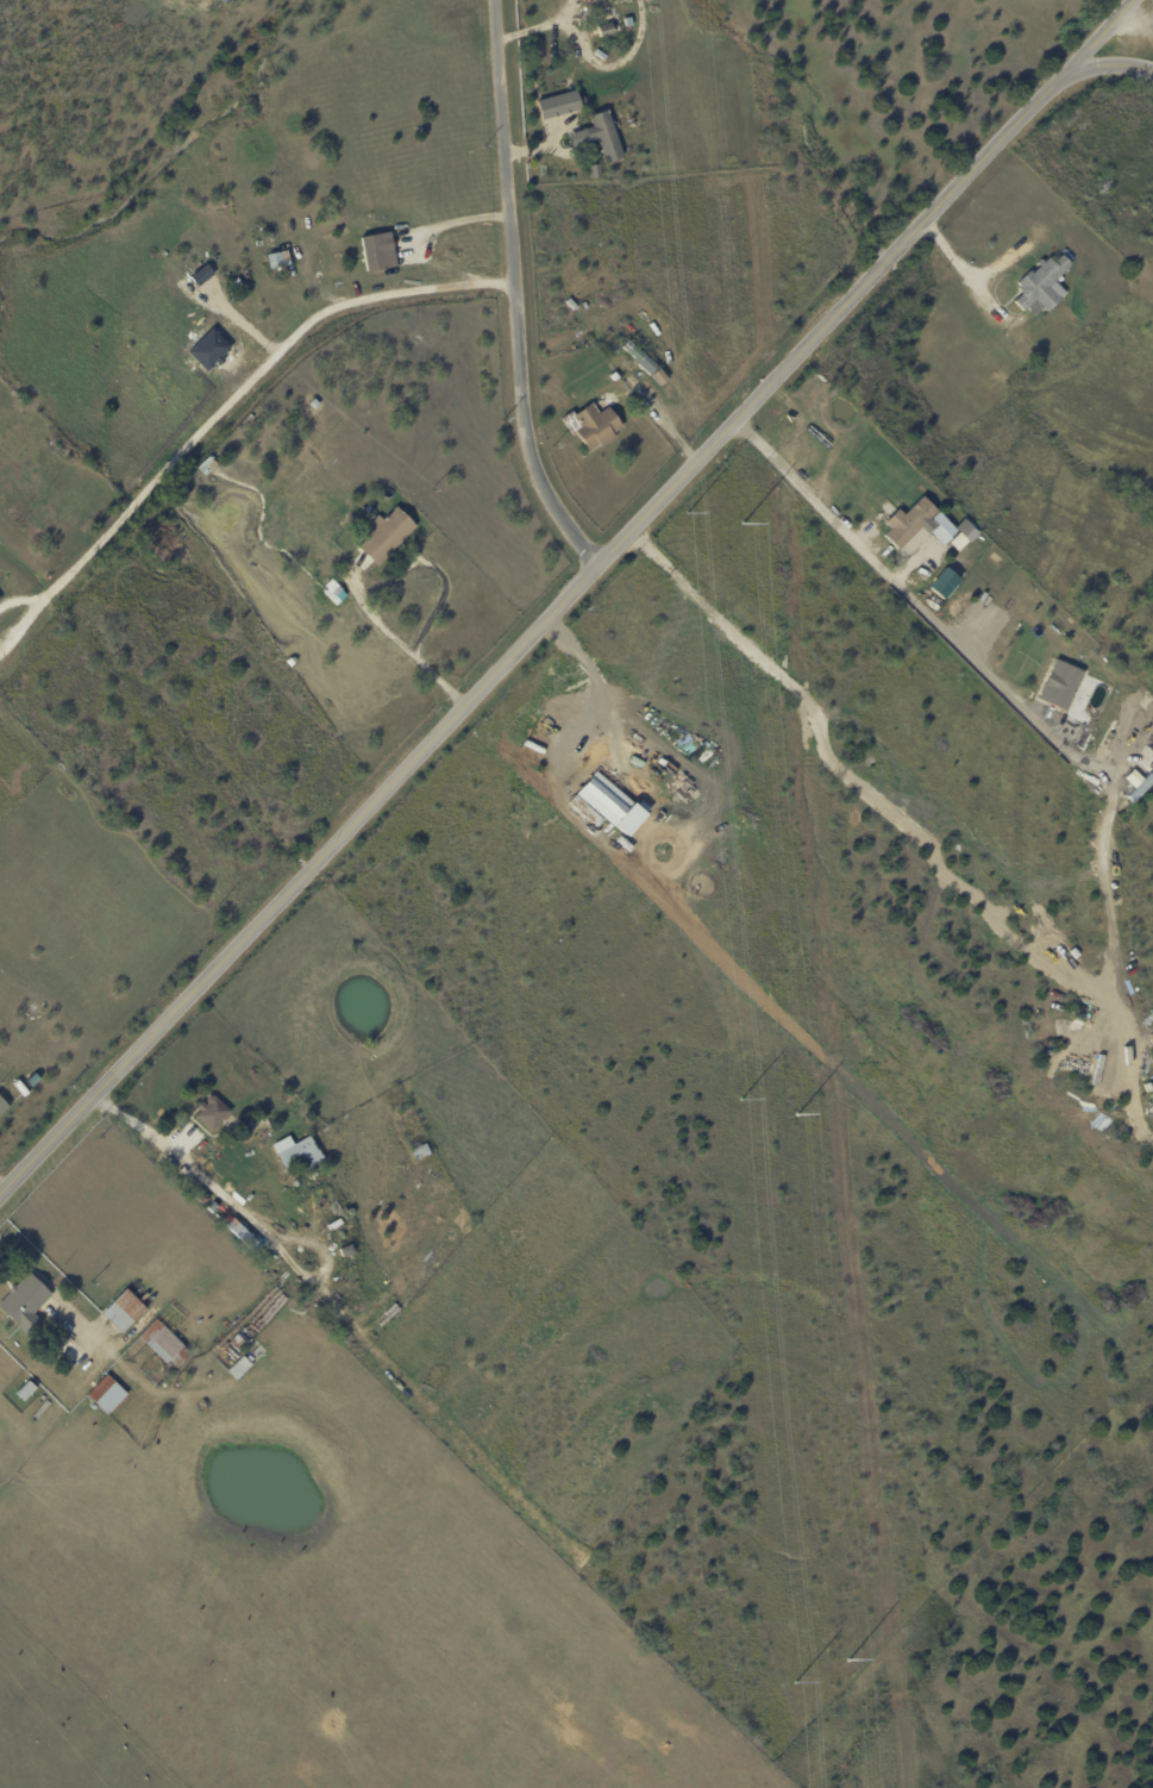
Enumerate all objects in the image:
road: (1092, 44)
road: (1099, 67)
building: (559, 104)
building: (606, 137)
building: (596, 173)
road: (451, 224)
building: (375, 252)
road: (964, 269)
building: (1044, 283)
road: (513, 292)
building: (638, 352)
building: (652, 367)
road: (253, 373)
building: (660, 376)
building: (594, 425)
building: (892, 518)
building: (911, 524)
building: (963, 527)
building: (386, 536)
road: (879, 569)
building: (942, 582)
building: (330, 587)
road: (396, 640)
road: (524, 642)
road: (670, 642)
building: (1089, 688)
building: (1066, 689)
building: (1096, 717)
building: (1152, 750)
building: (1134, 783)
building: (1145, 786)
building: (607, 802)
building: (2, 1108)
building: (212, 1114)
building: (421, 1152)
building: (301, 1157)
building: (312, 1175)
road: (4, 1188)
building: (202, 1199)
building: (214, 1208)
road: (246, 1221)
building: (244, 1237)
building: (24, 1301)
building: (124, 1313)
building: (242, 1342)
building: (165, 1346)
building: (70, 1351)
building: (240, 1369)
building: (24, 1392)
building: (107, 1395)

